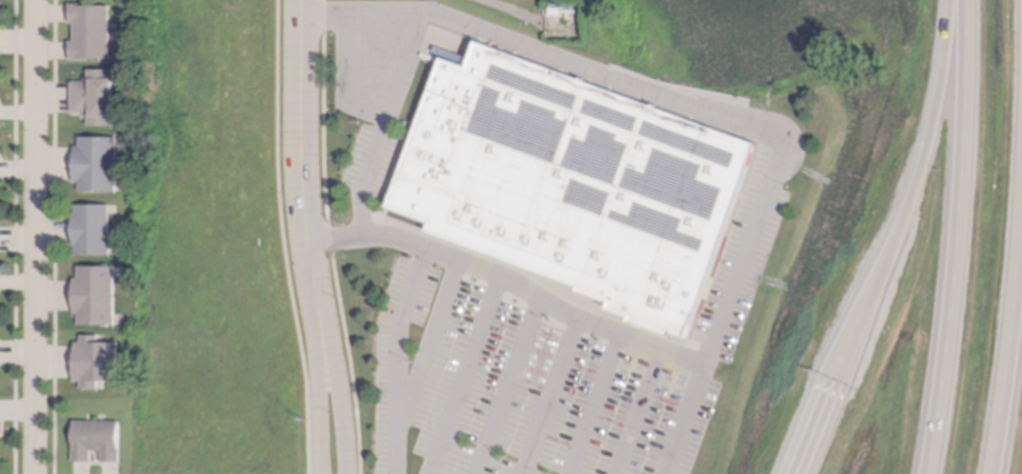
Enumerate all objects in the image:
building: (91, 31)
building: (96, 97)
road: (715, 115)
road: (384, 126)
road: (303, 146)
building: (97, 164)
building: (577, 185)
road: (915, 196)
building: (93, 228)
road: (36, 236)
road: (283, 237)
road: (329, 237)
road: (961, 237)
road: (511, 284)
building: (95, 294)
road: (432, 339)
road: (398, 359)
building: (96, 361)
road: (1011, 366)
parking lot: (556, 369)
road: (466, 376)
road: (337, 382)
road: (317, 383)
road: (508, 387)
road: (552, 397)
road: (596, 405)
road: (639, 413)
road: (818, 427)
building: (97, 440)

